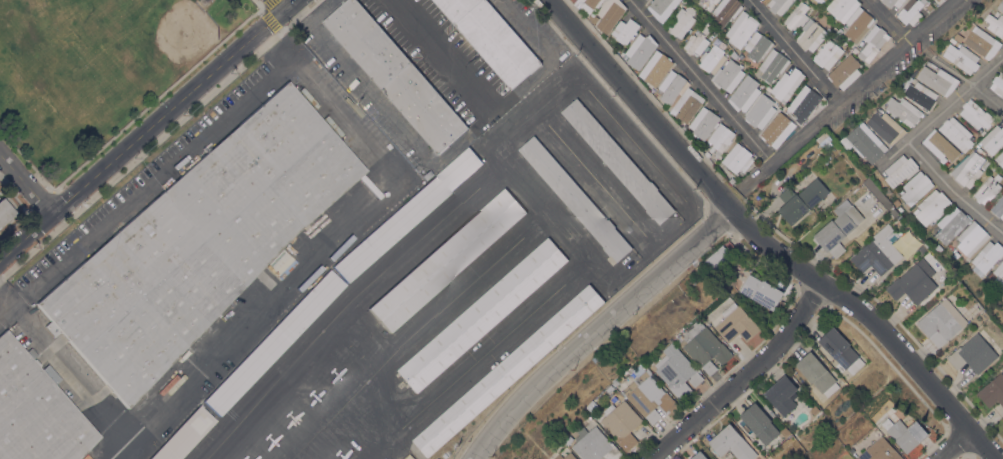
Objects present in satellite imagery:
building: (573, 0)
building: (936, 0)
building: (684, 1)
building: (820, 1)
building: (892, 2)
road: (277, 4)
building: (707, 4)
building: (590, 5)
building: (1000, 5)
building: (778, 6)
building: (662, 8)
road: (319, 10)
building: (910, 11)
building: (725, 12)
building: (609, 14)
building: (816, 14)
building: (592, 16)
building: (796, 16)
building: (851, 17)
building: (699, 18)
road: (889, 20)
building: (681, 21)
building: (995, 24)
building: (741, 29)
building: (625, 30)
building: (837, 30)
building: (811, 34)
building: (960, 34)
building: (491, 38)
building: (718, 38)
building: (952, 40)
building: (979, 40)
building: (697, 41)
building: (872, 42)
building: (757, 45)
road: (274, 49)
building: (640, 50)
road: (795, 50)
building: (735, 54)
building: (828, 54)
road: (446, 55)
building: (962, 57)
building: (712, 59)
building: (930, 64)
building: (773, 65)
park: (95, 67)
building: (654, 68)
building: (844, 72)
building: (395, 73)
building: (728, 75)
building: (938, 79)
building: (998, 83)
building: (789, 84)
building: (672, 86)
building: (769, 90)
building: (744, 93)
building: (919, 94)
road: (987, 97)
building: (802, 102)
building: (687, 105)
building: (879, 110)
building: (760, 111)
building: (903, 111)
road: (940, 111)
building: (975, 115)
road: (339, 121)
building: (702, 123)
building: (886, 127)
road: (145, 128)
building: (776, 129)
building: (980, 130)
building: (956, 133)
building: (720, 137)
road: (781, 139)
building: (821, 139)
building: (992, 139)
building: (865, 142)
building: (939, 146)
road: (442, 158)
building: (737, 158)
building: (1000, 158)
airport hangar: (617, 160)
building: (617, 160)
building: (967, 169)
building: (900, 170)
building: (427, 175)
building: (875, 182)
road: (25, 184)
building: (916, 187)
road: (952, 188)
building: (988, 189)
building: (785, 193)
building: (877, 193)
airport hangar: (575, 199)
building: (575, 199)
building: (803, 201)
building: (896, 202)
building: (932, 206)
building: (998, 206)
building: (5, 211)
building: (893, 212)
airport hangar: (407, 214)
building: (407, 214)
building: (894, 223)
building: (951, 224)
building: (838, 227)
building: (971, 238)
road: (761, 240)
building: (198, 243)
building: (923, 246)
building: (936, 248)
building: (878, 251)
building: (986, 258)
airport hangar: (446, 260)
building: (446, 260)
building: (717, 260)
building: (997, 275)
airport apron: (467, 280)
building: (914, 282)
airport: (454, 289)
building: (761, 291)
road: (6, 299)
road: (6, 312)
airport hangar: (482, 315)
building: (482, 315)
building: (984, 315)
building: (942, 322)
building: (736, 323)
road: (596, 329)
airport hangar: (273, 343)
building: (273, 343)
building: (704, 346)
building: (840, 351)
building: (973, 354)
airport hangar: (508, 370)
building: (508, 370)
building: (678, 371)
building: (817, 373)
road: (69, 376)
road: (743, 376)
building: (992, 391)
building: (781, 394)
building: (649, 396)
building: (36, 410)
building: (596, 414)
building: (622, 423)
building: (759, 423)
building: (905, 433)
airport hangar: (184, 436)
building: (184, 436)
building: (569, 439)
building: (732, 443)
building: (595, 445)
road: (955, 445)
building: (880, 450)
road: (119, 452)
building: (698, 455)
building: (408, 456)
building: (566, 456)

